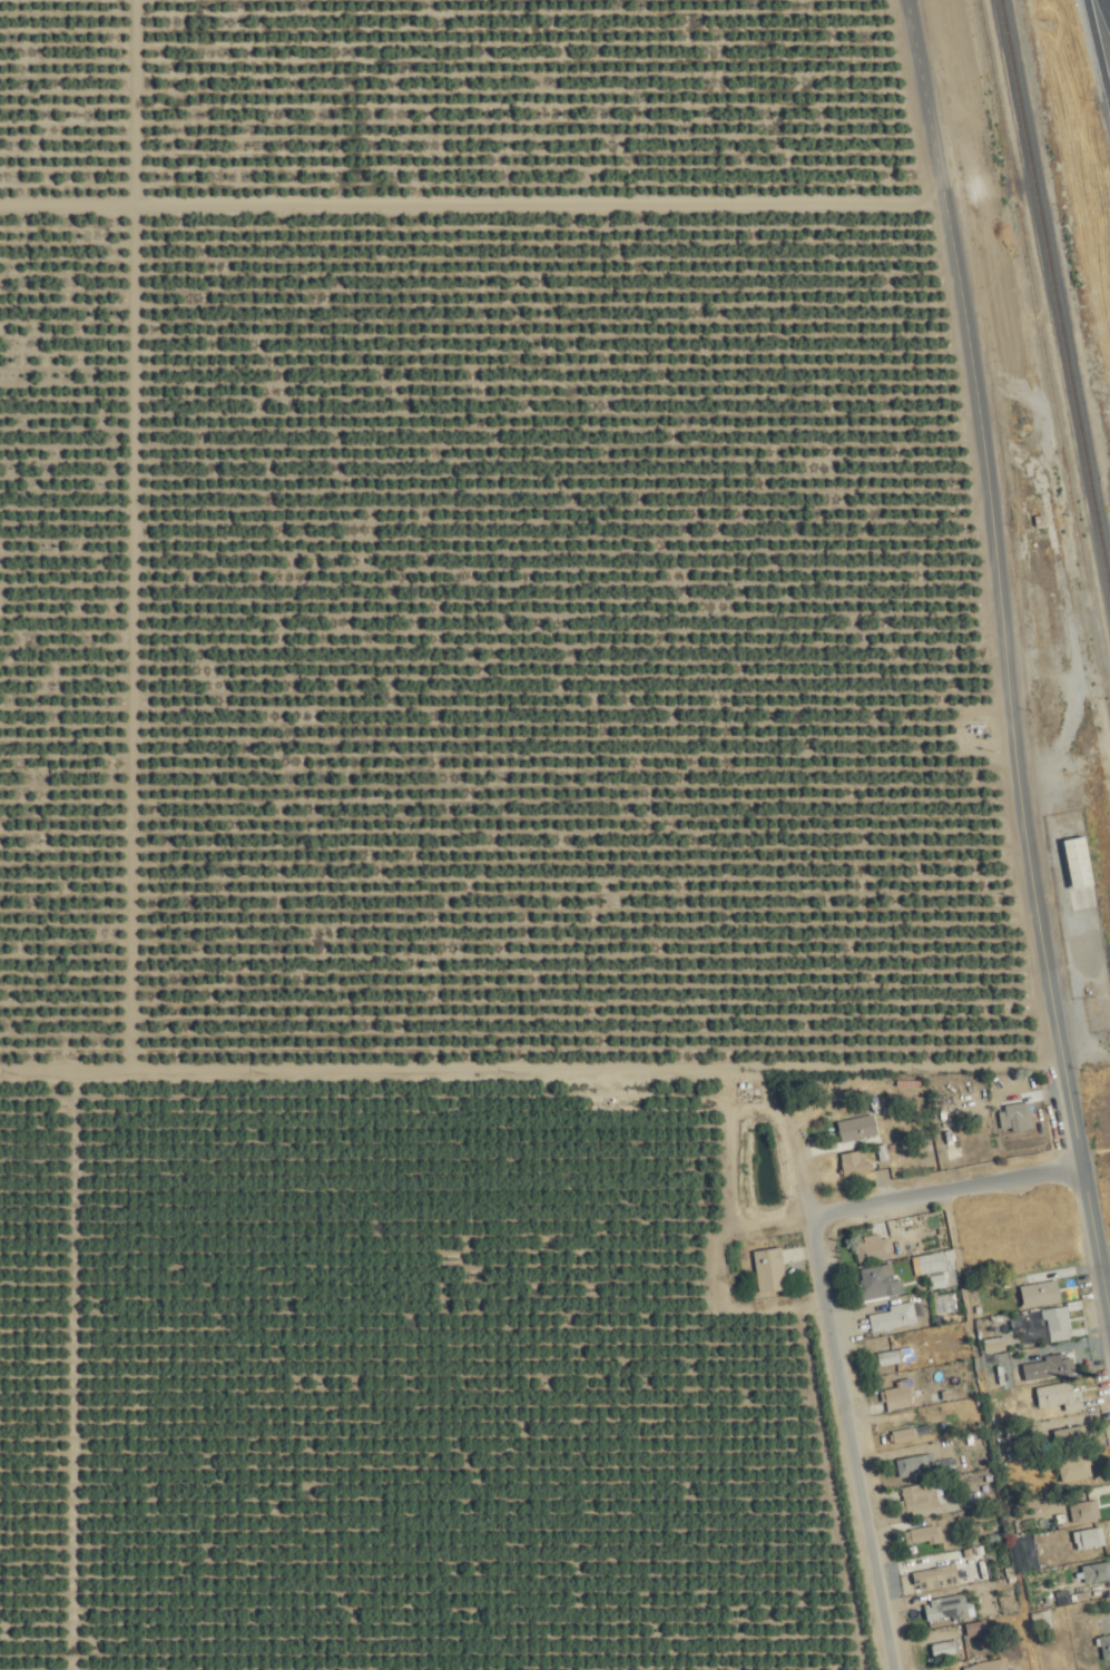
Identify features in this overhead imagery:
road: (1108, 2)
road: (1099, 47)
railway: (1058, 279)
railway: (1047, 338)
road: (998, 577)
building: (1081, 872)
building: (1019, 1111)
building: (858, 1129)
building: (856, 1165)
road: (939, 1181)
road: (1092, 1248)
building: (876, 1249)
building: (772, 1271)
building: (880, 1284)
building: (1040, 1295)
building: (892, 1319)
building: (1059, 1324)
building: (893, 1357)
building: (1061, 1365)
road: (839, 1395)
building: (900, 1396)
building: (1059, 1397)
building: (1072, 1435)
building: (906, 1436)
building: (917, 1466)
building: (1075, 1468)
building: (920, 1499)
building: (1087, 1512)
building: (926, 1534)
building: (1090, 1539)
building: (1097, 1573)
building: (944, 1578)
building: (951, 1608)
building: (979, 1629)
building: (1106, 1648)
building: (945, 1649)
building: (988, 1666)
building: (957, 1669)

